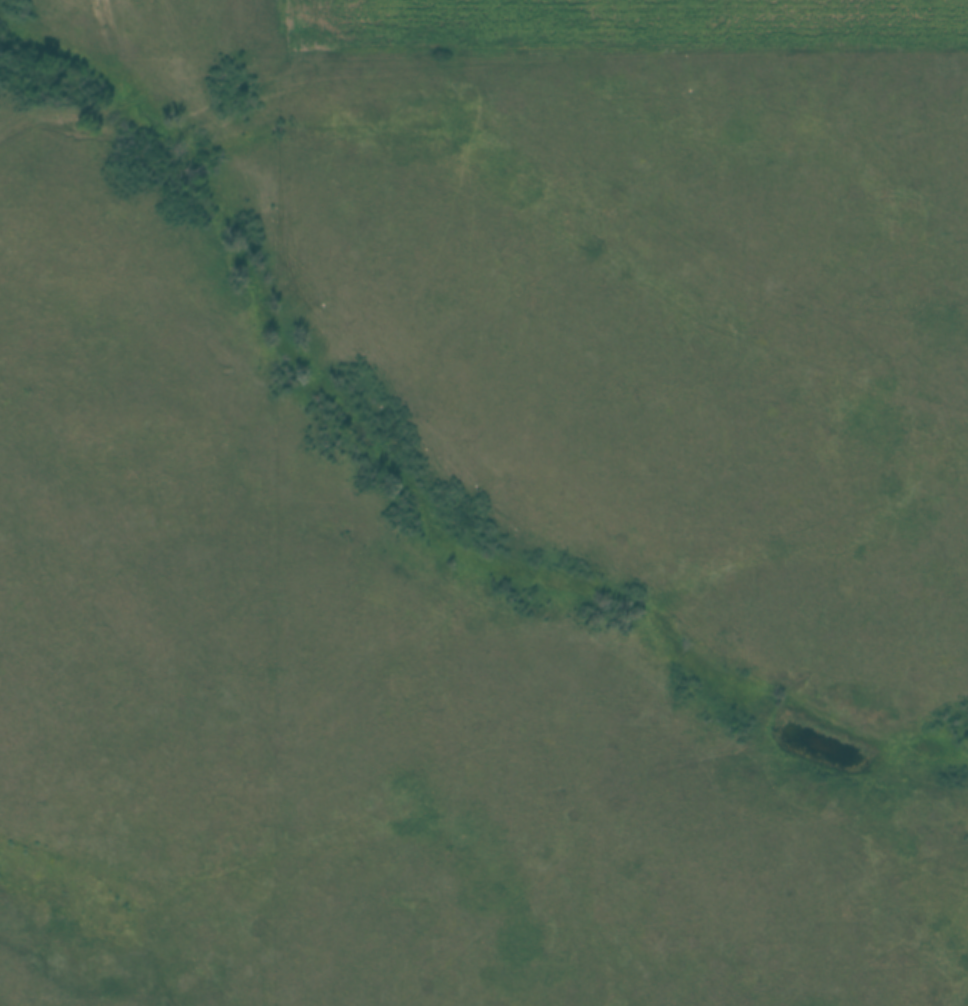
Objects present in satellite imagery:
road: (447, 477)

